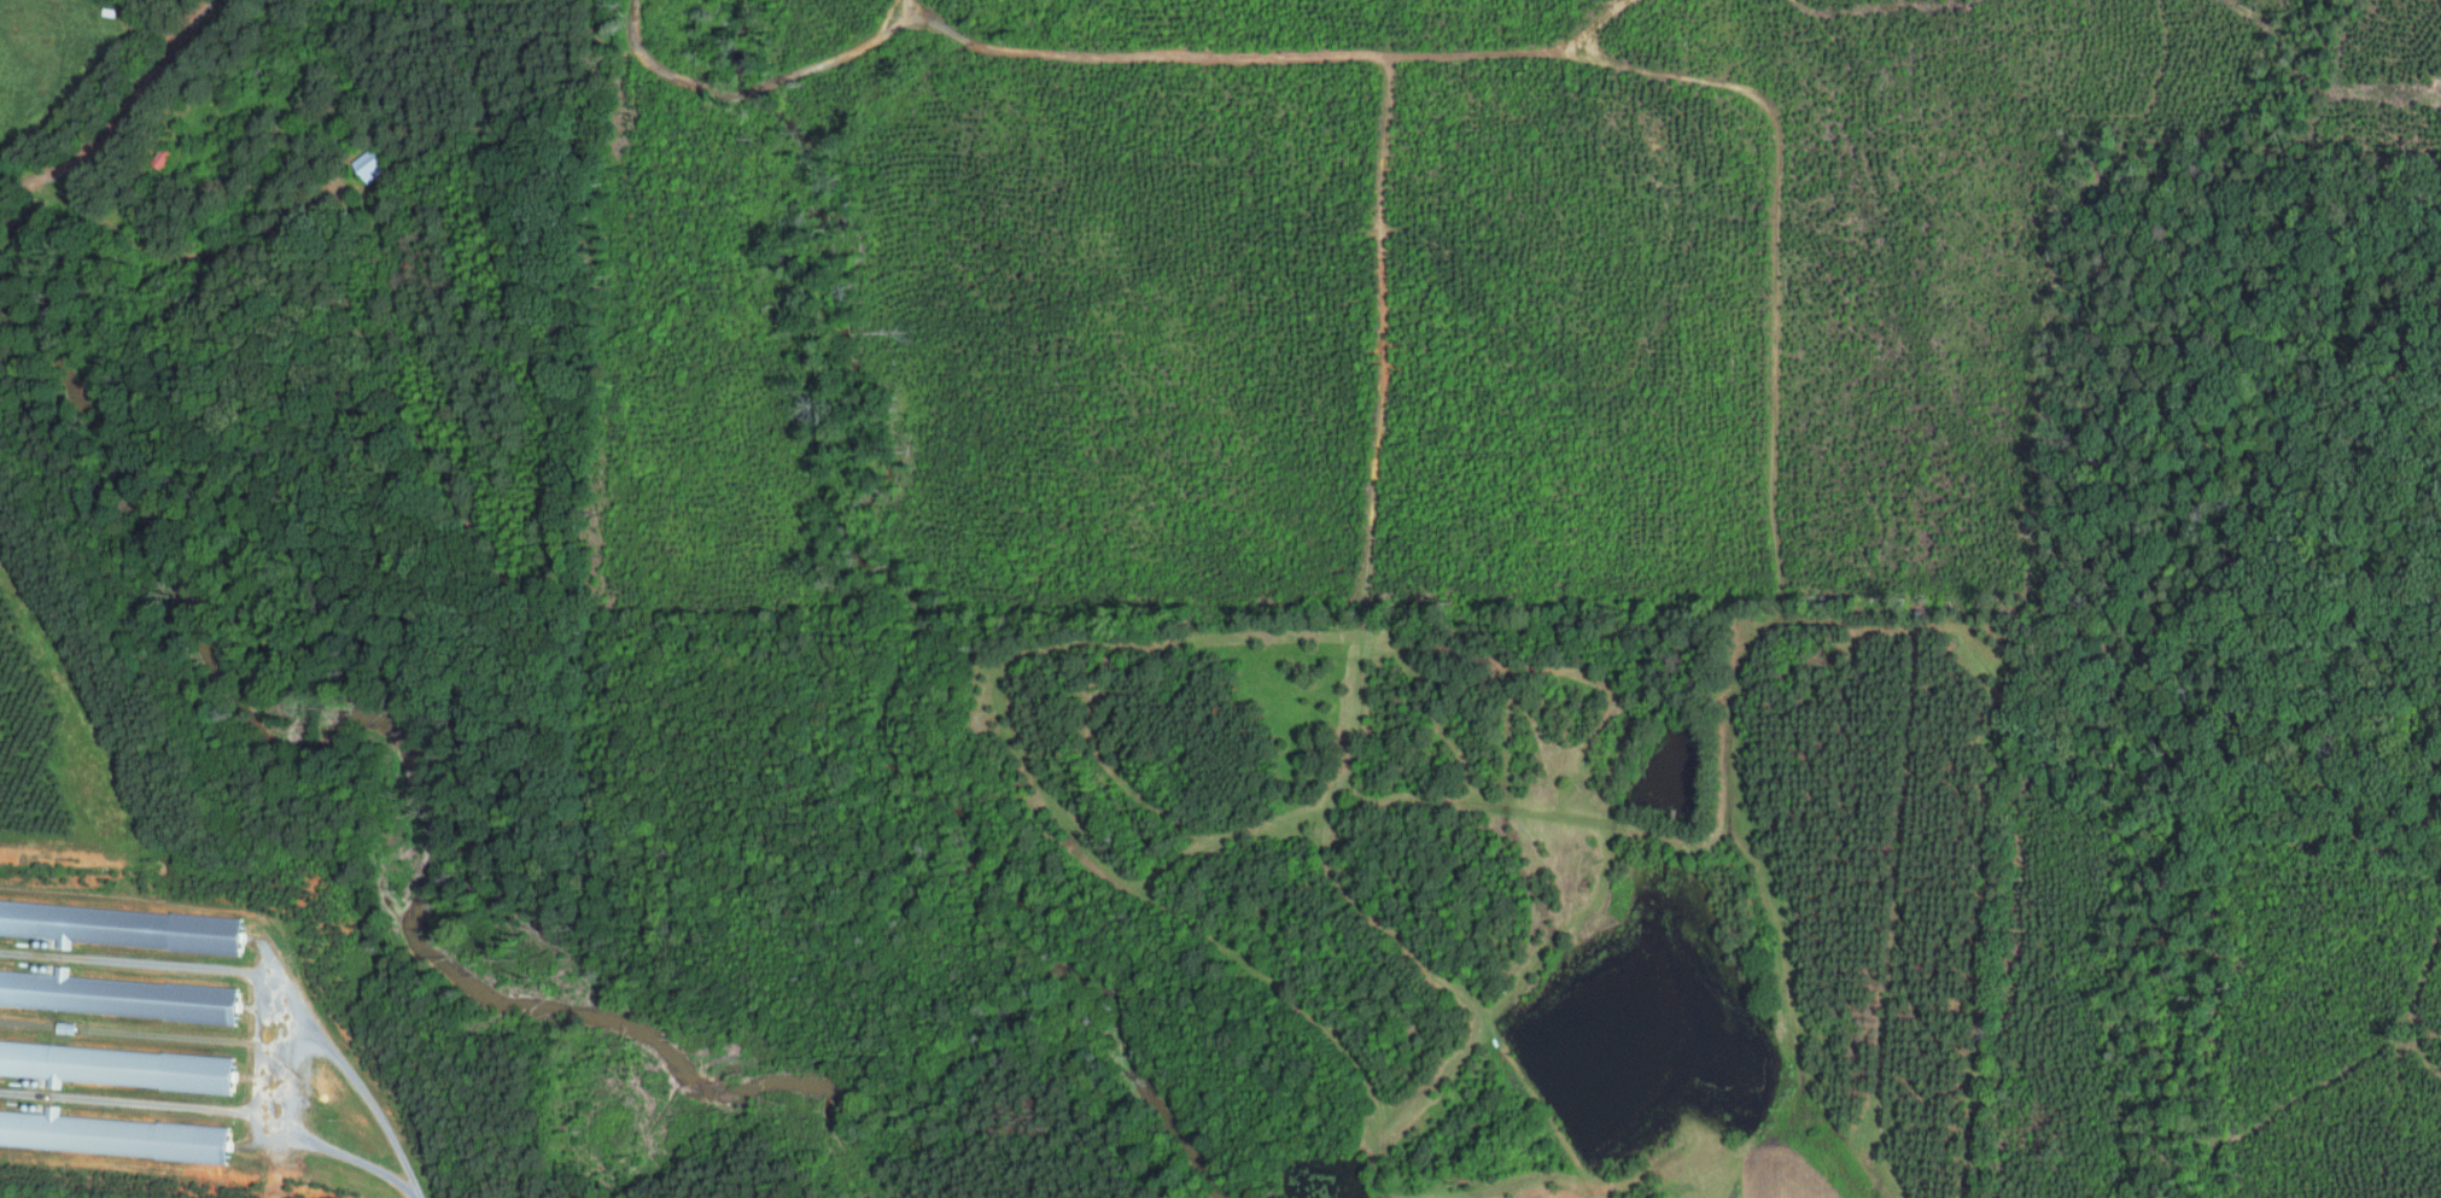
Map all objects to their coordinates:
road: (912, 4)
road: (689, 81)
road: (130, 111)
building: (368, 165)
road: (1741, 226)
building: (122, 925)
building: (113, 994)
building: (62, 1027)
building: (116, 1065)
road: (381, 1110)
building: (109, 1134)

